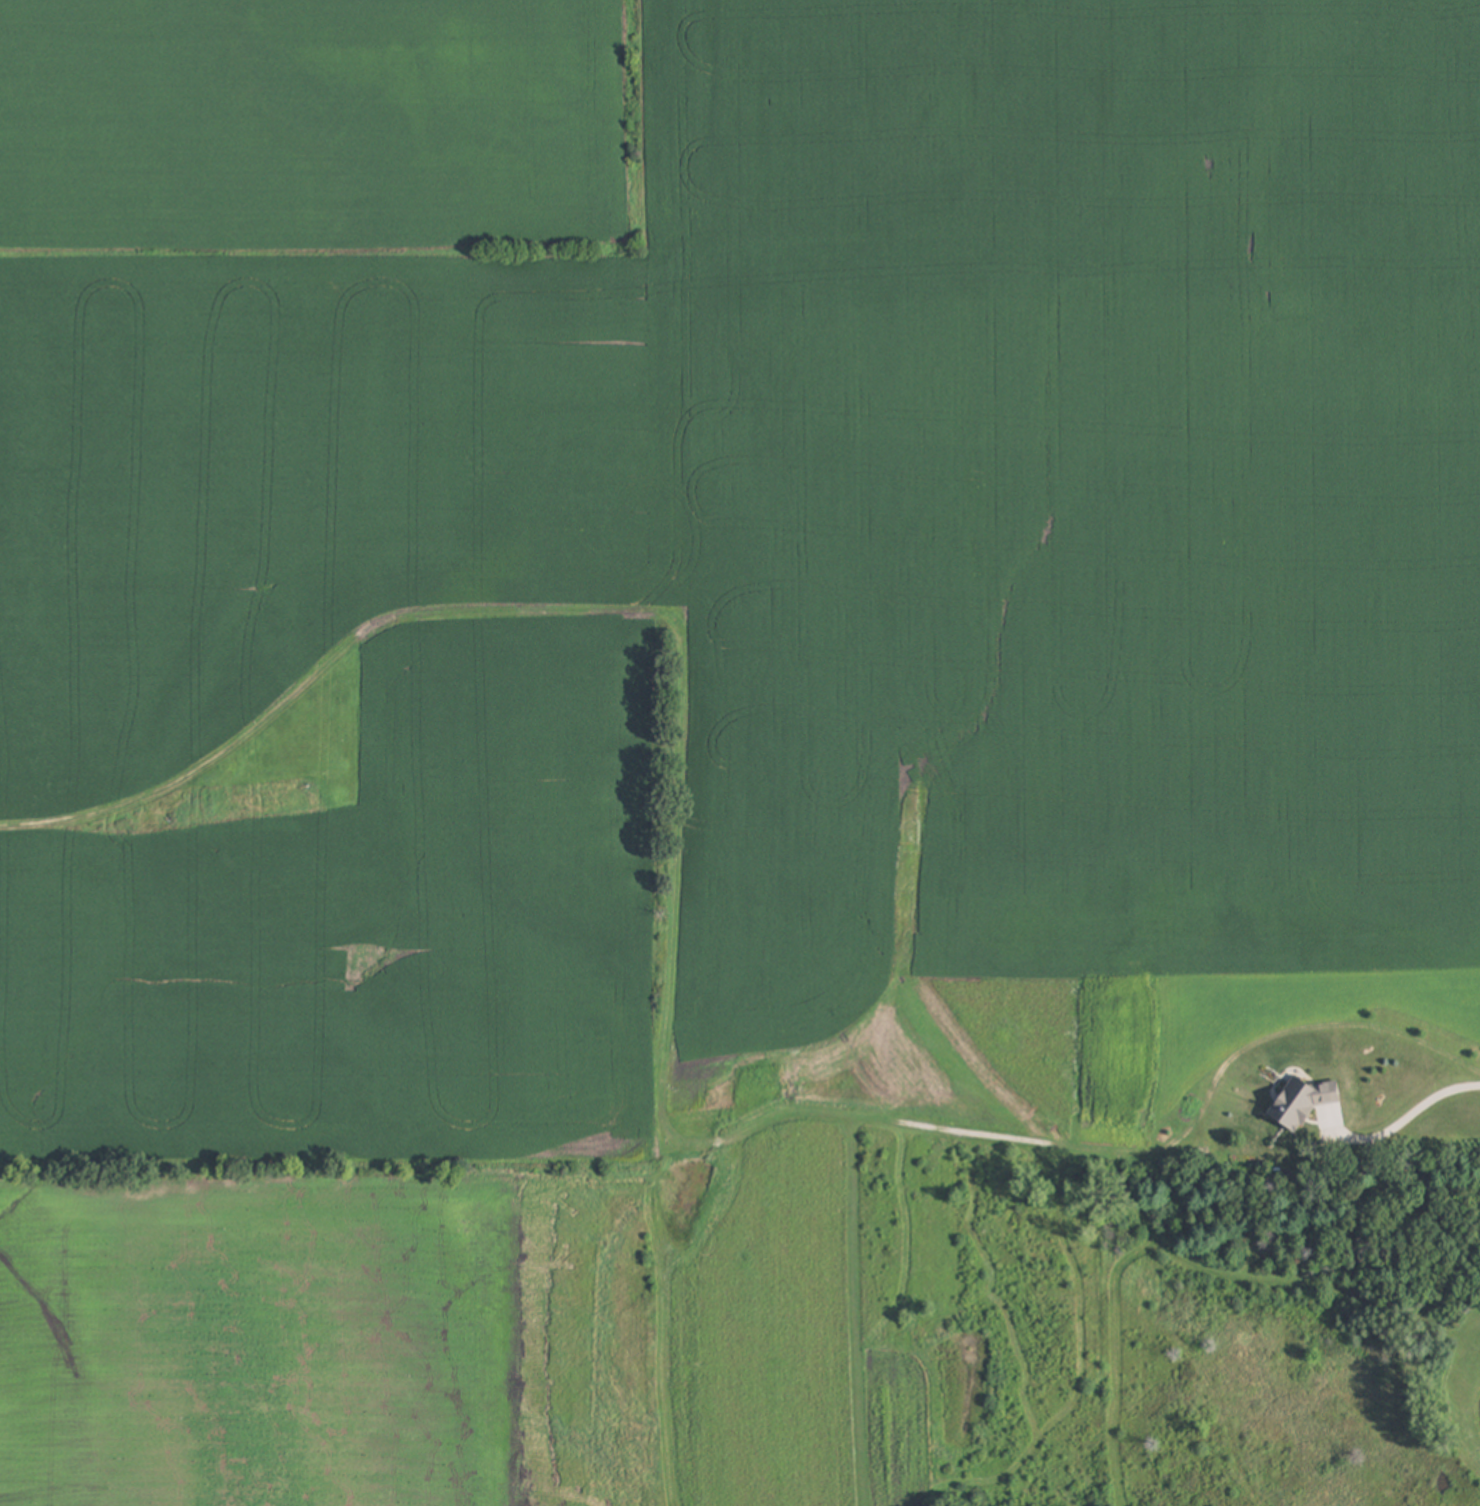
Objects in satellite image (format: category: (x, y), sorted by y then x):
road: (151, 788)
building: (1303, 1100)
road: (1405, 1116)

